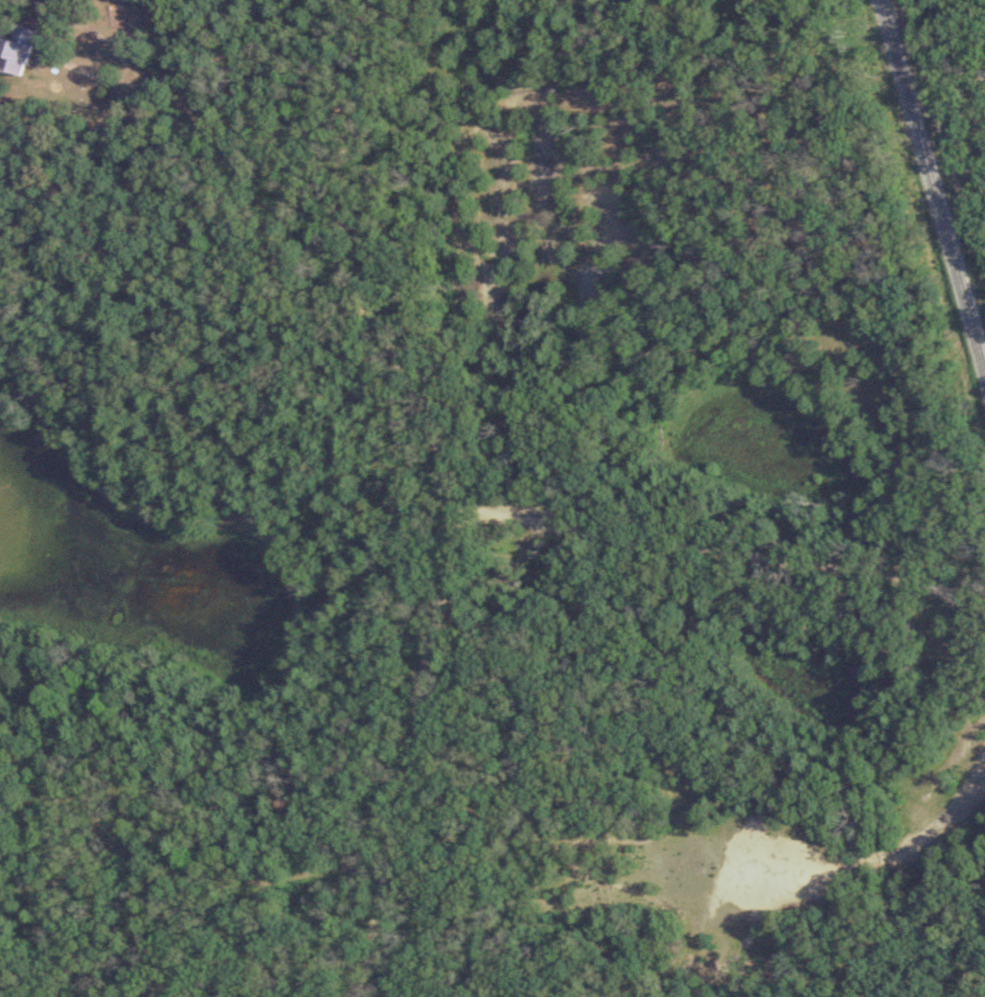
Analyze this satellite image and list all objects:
building: (16, 51)
road: (153, 73)
railway: (931, 192)
road: (342, 262)
road: (283, 524)
road: (723, 552)
road: (411, 750)

